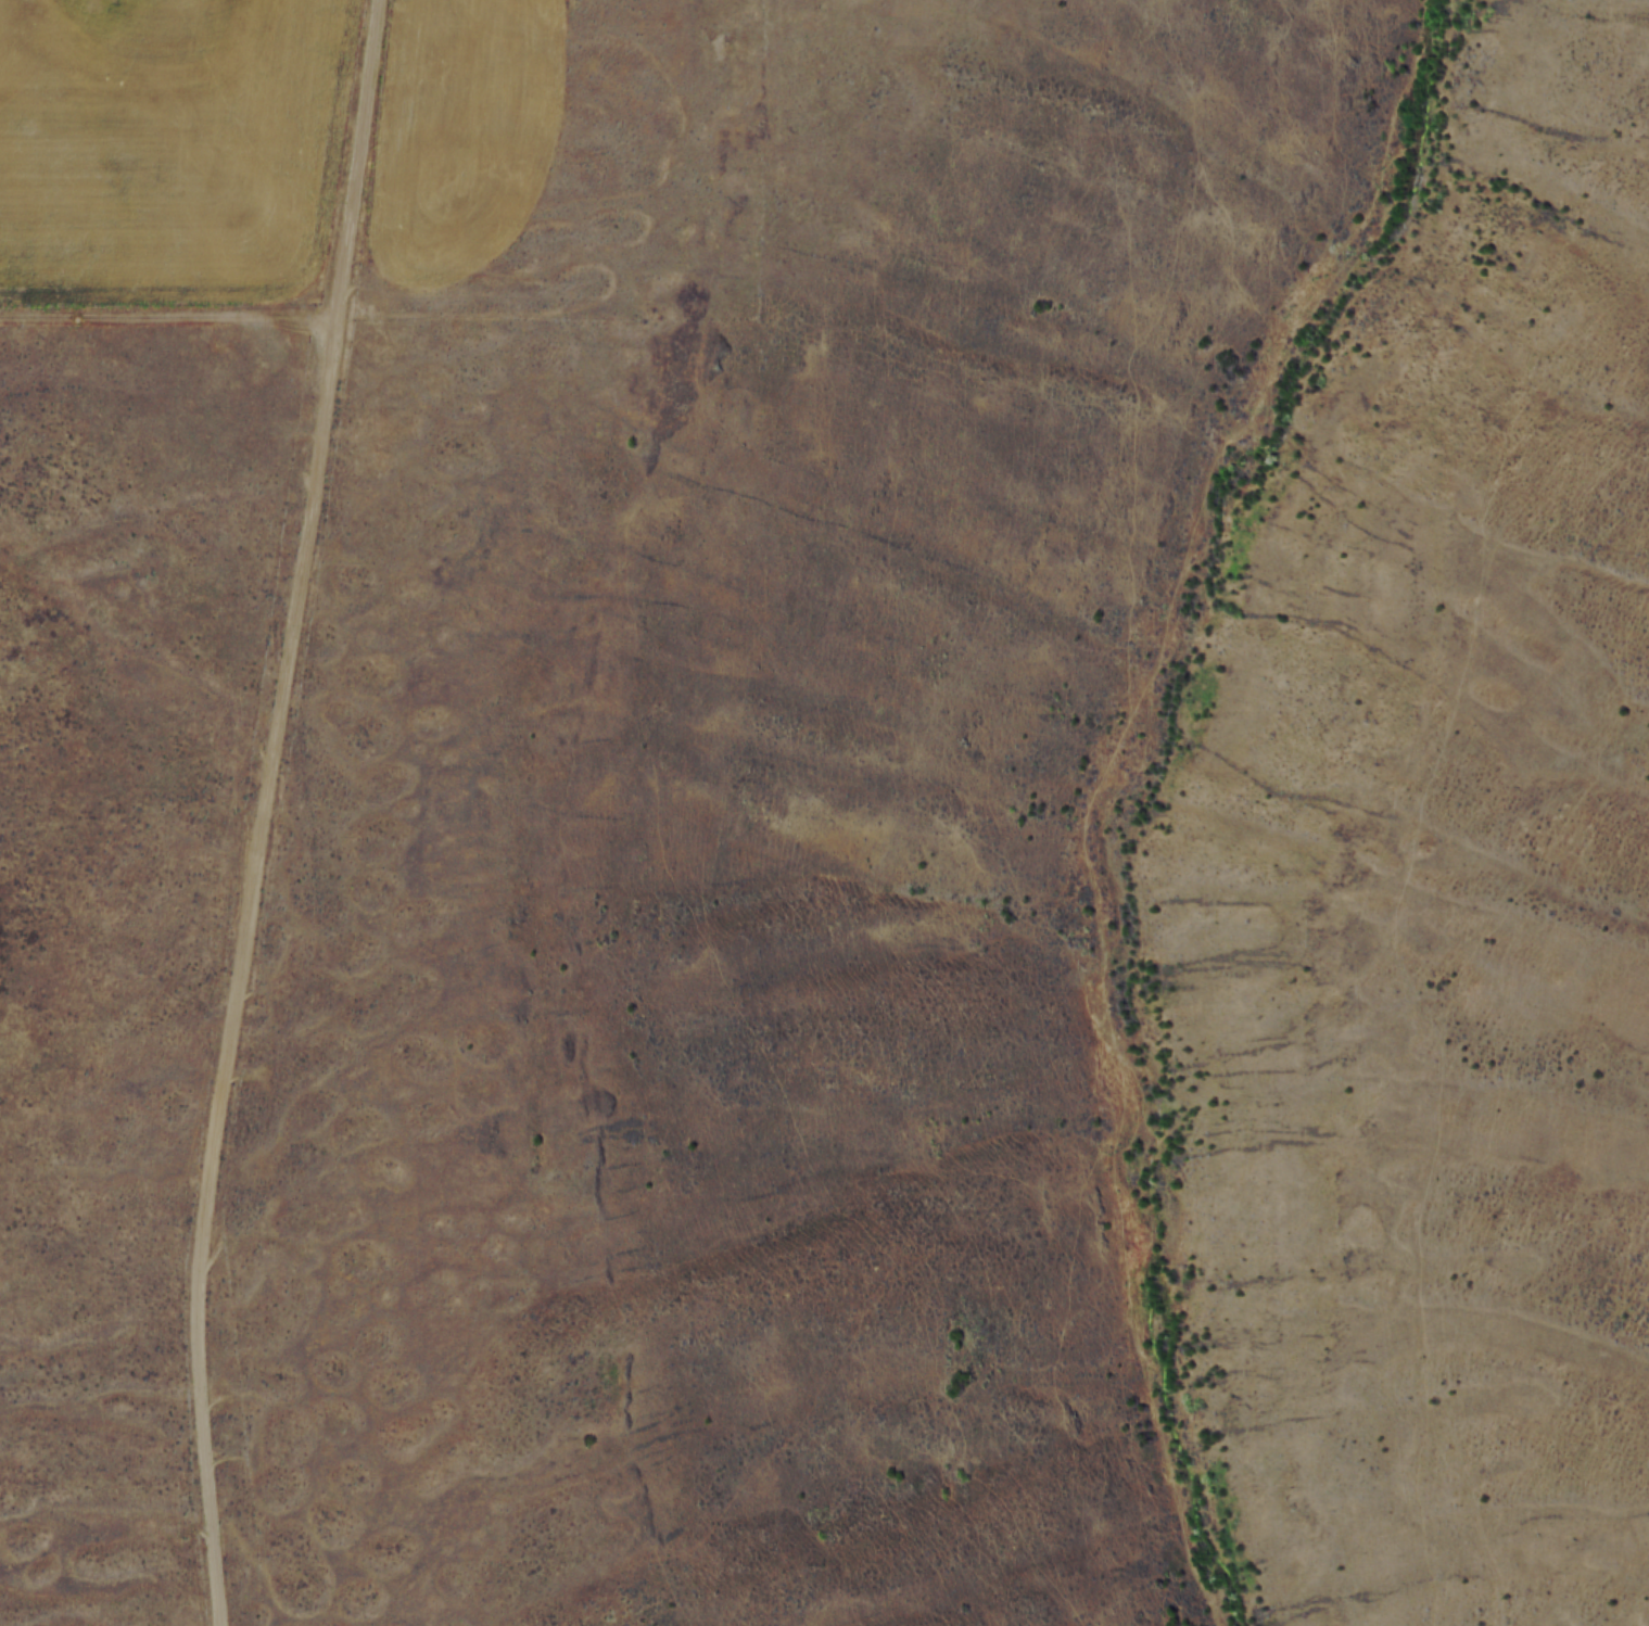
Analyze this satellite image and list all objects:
road: (264, 812)

